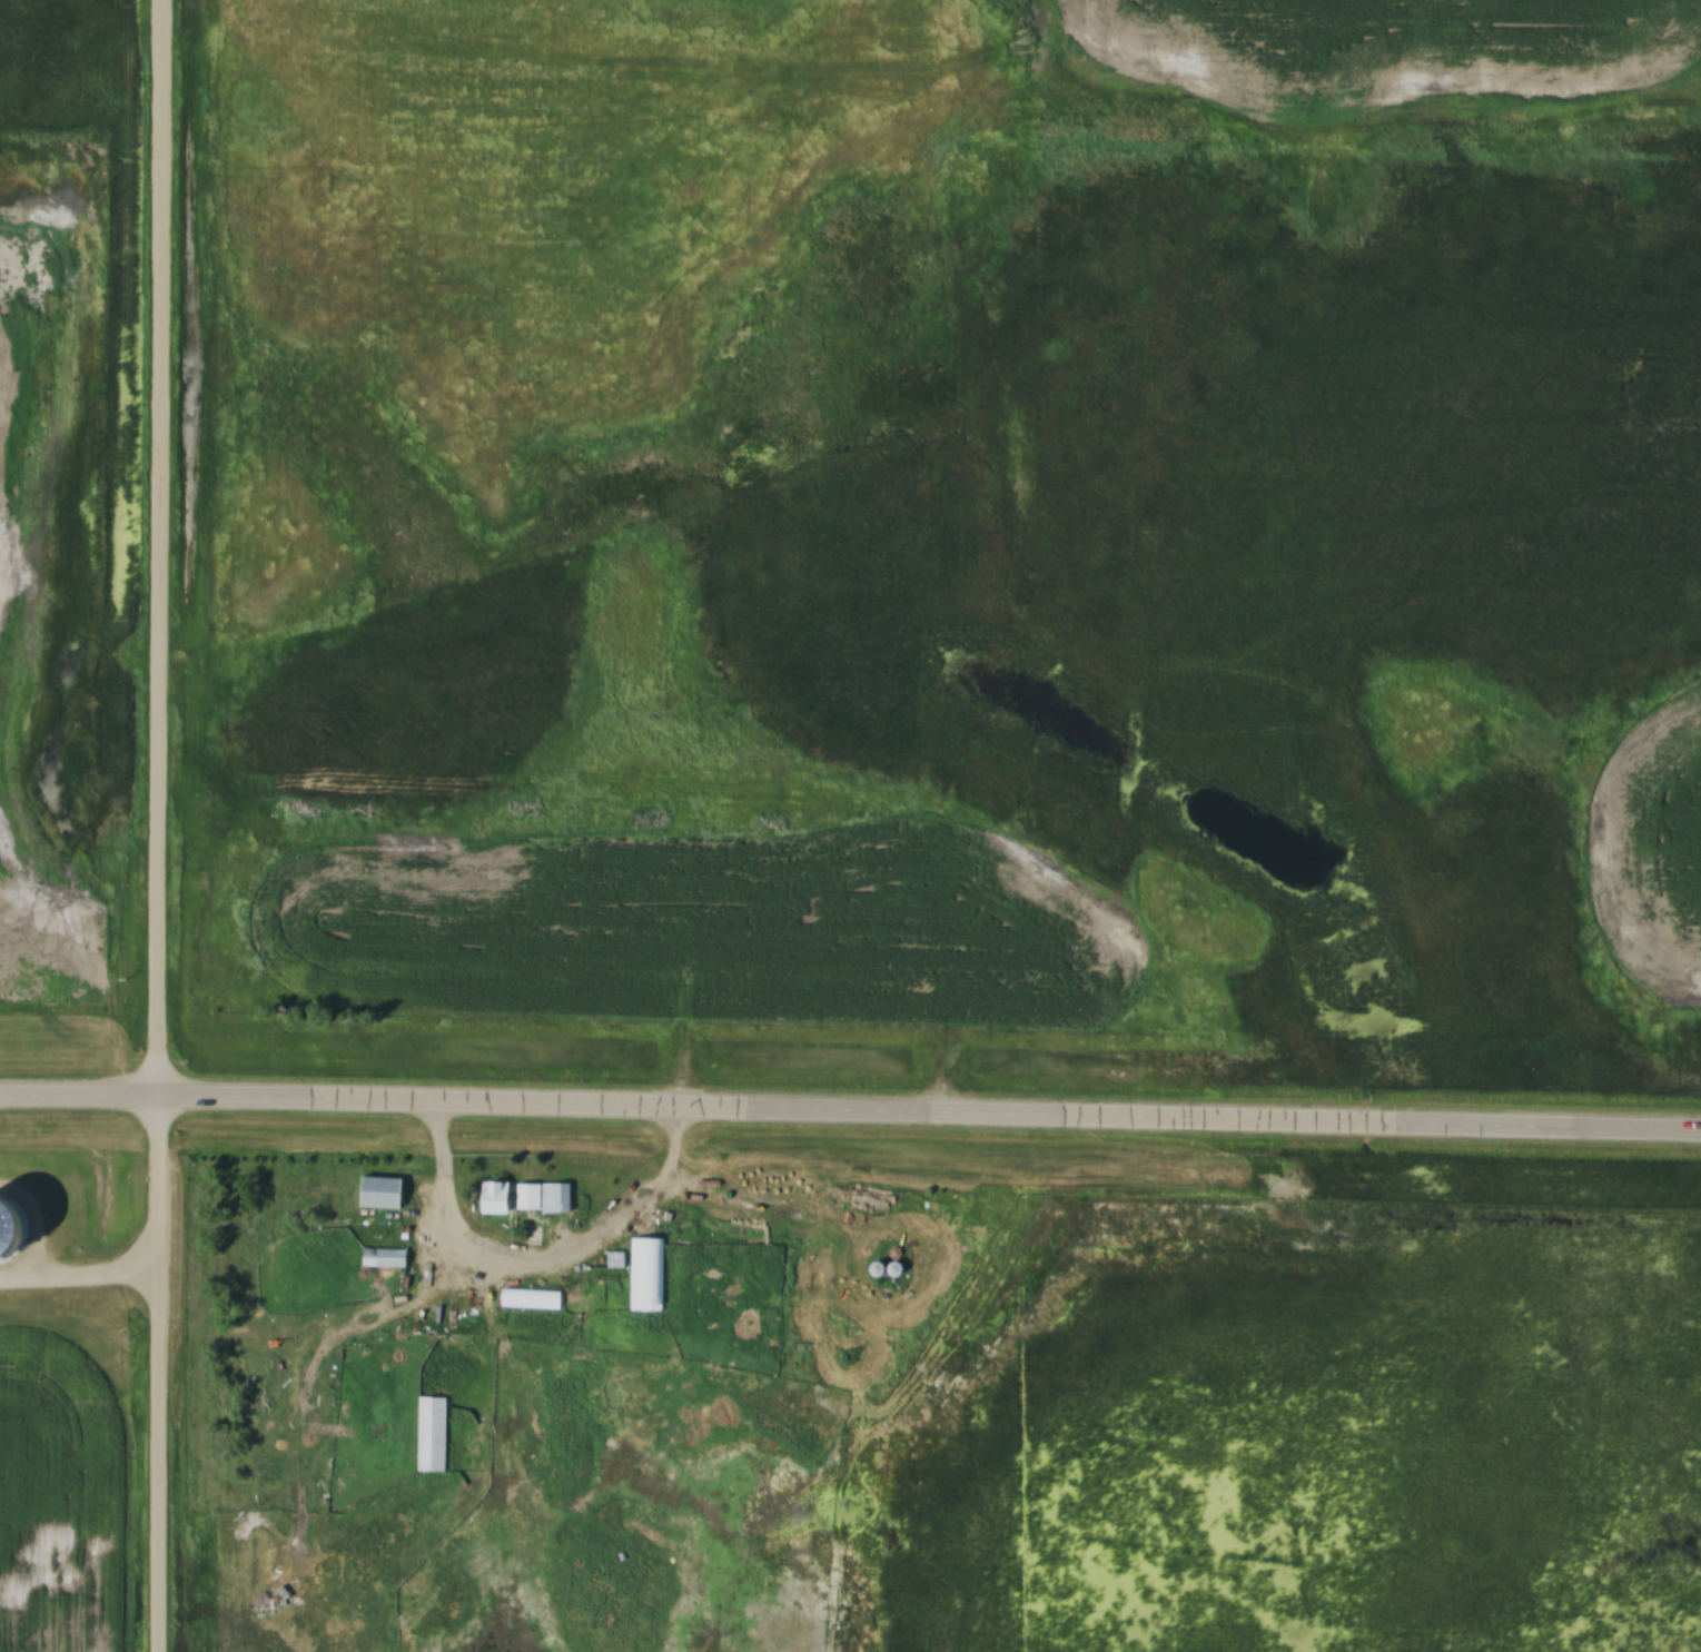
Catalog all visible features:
road: (155, 825)
road: (850, 1117)
building: (375, 1193)
building: (520, 1197)
building: (378, 1257)
building: (643, 1278)
building: (428, 1435)
building: (454, 1505)

